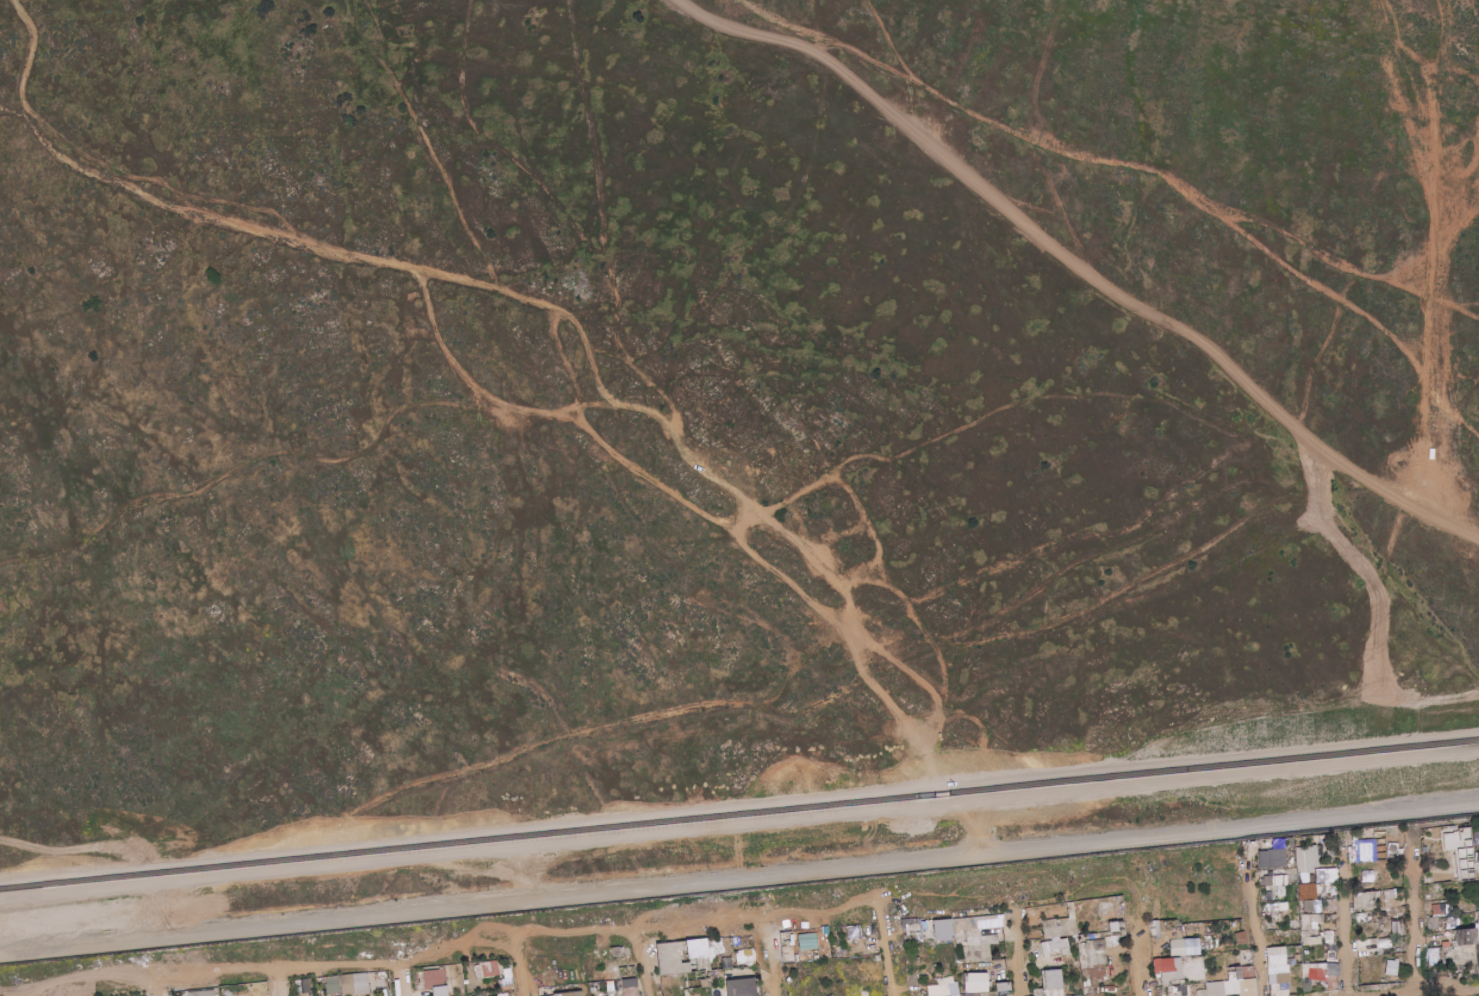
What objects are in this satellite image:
road: (1437, 67)
road: (1447, 71)
road: (1411, 114)
road: (1090, 159)
road: (1478, 166)
road: (1078, 261)
road: (1443, 354)
road: (1462, 477)
road: (739, 802)
road: (975, 815)
road: (739, 823)
building: (1475, 837)
building: (1320, 839)
building: (1305, 841)
building: (1434, 845)
building: (1323, 846)
building: (1453, 846)
building: (1423, 847)
building: (1365, 849)
building: (1393, 850)
building: (1330, 853)
building: (1464, 855)
building: (1424, 857)
building: (1477, 857)
building: (1272, 858)
building: (1316, 860)
building: (1306, 862)
building: (1378, 863)
building: (1380, 868)
building: (1267, 872)
building: (1324, 875)
building: (1373, 875)
building: (1427, 879)
building: (1279, 880)
building: (1454, 880)
road: (739, 881)
building: (1269, 881)
building: (1286, 883)
building: (1262, 884)
building: (1370, 884)
building: (1447, 885)
building: (1477, 885)
building: (1385, 886)
building: (1321, 887)
building: (1330, 887)
building: (1436, 889)
building: (1281, 891)
building: (1308, 891)
building: (1289, 892)
building: (1270, 894)
building: (1390, 894)
building: (1320, 896)
building: (1430, 896)
building: (1462, 896)
building: (1335, 897)
building: (1372, 898)
building: (1365, 900)
building: (1120, 901)
building: (1302, 901)
building: (1330, 904)
building: (1309, 906)
building: (1317, 906)
building: (1293, 907)
building: (1447, 907)
building: (1469, 907)
building: (1105, 908)
building: (1400, 908)
building: (1284, 909)
building: (1369, 909)
building: (1438, 909)
building: (1265, 911)
building: (1277, 911)
building: (1120, 912)
building: (1395, 913)
road: (1418, 913)
building: (1311, 915)
building: (1476, 916)
building: (1331, 917)
building: (1316, 918)
building: (1362, 918)
building: (1377, 919)
building: (1039, 920)
building: (1471, 920)
building: (1452, 921)
building: (1296, 922)
building: (1432, 922)
building: (1478, 922)
building: (977, 923)
road: (1347, 924)
building: (1060, 925)
building: (1115, 925)
building: (1305, 925)
building: (1381, 926)
building: (1291, 928)
building: (1314, 928)
building: (1397, 928)
building: (904, 929)
building: (922, 929)
building: (942, 929)
building: (951, 929)
building: (1155, 929)
building: (1272, 929)
building: (854, 932)
building: (1477, 932)
building: (1122, 934)
road: (1257, 934)
building: (1322, 934)
building: (913, 936)
building: (1465, 936)
building: (936, 937)
building: (1328, 937)
building: (1333, 937)
building: (1074, 938)
building: (1080, 938)
building: (717, 940)
building: (737, 940)
building: (981, 940)
building: (1118, 940)
building: (1316, 940)
building: (1108, 941)
building: (1306, 941)
building: (808, 942)
building: (1031, 943)
building: (716, 944)
building: (1055, 944)
building: (1363, 945)
building: (1373, 945)
building: (1385, 945)
building: (1191, 946)
building: (1178, 948)
road: (442, 949)
building: (718, 949)
building: (839, 949)
building: (710, 950)
building: (1454, 950)
building: (698, 951)
road: (891, 951)
building: (1050, 951)
building: (1288, 951)
building: (1477, 951)
building: (615, 952)
building: (993, 952)
building: (1307, 952)
building: (975, 953)
building: (1092, 953)
building: (1372, 953)
road: (1141, 954)
building: (1298, 954)
building: (1331, 954)
building: (1359, 954)
road: (771, 955)
building: (1464, 955)
building: (958, 956)
road: (1020, 956)
building: (1276, 956)
building: (746, 957)
building: (789, 957)
building: (672, 958)
building: (540, 961)
road: (644, 961)
building: (1288, 962)
building: (700, 964)
building: (1251, 964)
building: (728, 965)
building: (1156, 966)
building: (433, 967)
building: (1392, 967)
building: (442, 968)
building: (490, 968)
road: (522, 968)
building: (1170, 969)
building: (1234, 969)
building: (1332, 969)
building: (1098, 970)
building: (1271, 970)
building: (1313, 970)
building: (479, 971)
building: (1248, 971)
building: (628, 972)
building: (1085, 972)
building: (507, 973)
building: (382, 975)
road: (402, 975)
building: (1234, 975)
building: (1243, 975)
building: (1157, 976)
building: (435, 978)
building: (703, 978)
building: (1278, 978)
building: (918, 979)
building: (1160, 979)
building: (625, 980)
building: (466, 981)
building: (944, 981)
building: (505, 982)
building: (975, 982)
building: (1050, 982)
building: (1333, 982)
building: (1384, 982)
road: (282, 983)
building: (355, 983)
building: (1166, 983)
building: (1175, 983)
building: (332, 984)
building: (758, 984)
building: (610, 985)
building: (692, 985)
building: (1307, 985)
building: (1313, 986)
building: (465, 987)
building: (630, 987)
building: (741, 987)
building: (1000, 987)
building: (1093, 987)
building: (1230, 987)
building: (1246, 987)
road: (153, 988)
building: (620, 988)
building: (665, 988)
building: (967, 988)
building: (593, 989)
building: (1174, 989)
building: (1214, 989)
building: (1271, 989)
building: (1279, 989)
road: (1423, 989)
building: (215, 990)
building: (942, 990)
building: (1186, 990)
building: (440, 991)
building: (757, 991)
building: (1202, 991)
road: (36, 992)
building: (1037, 992)
building: (202, 993)
building: (313, 993)
building: (572, 993)
building: (357, 994)
building: (502, 994)
building: (510, 994)
building: (978, 994)
building: (1063, 994)
building: (1174, 994)
building: (557, 995)
building: (955, 995)
building: (989, 995)
building: (1004, 995)
building: (1079, 995)
building: (1231, 995)

